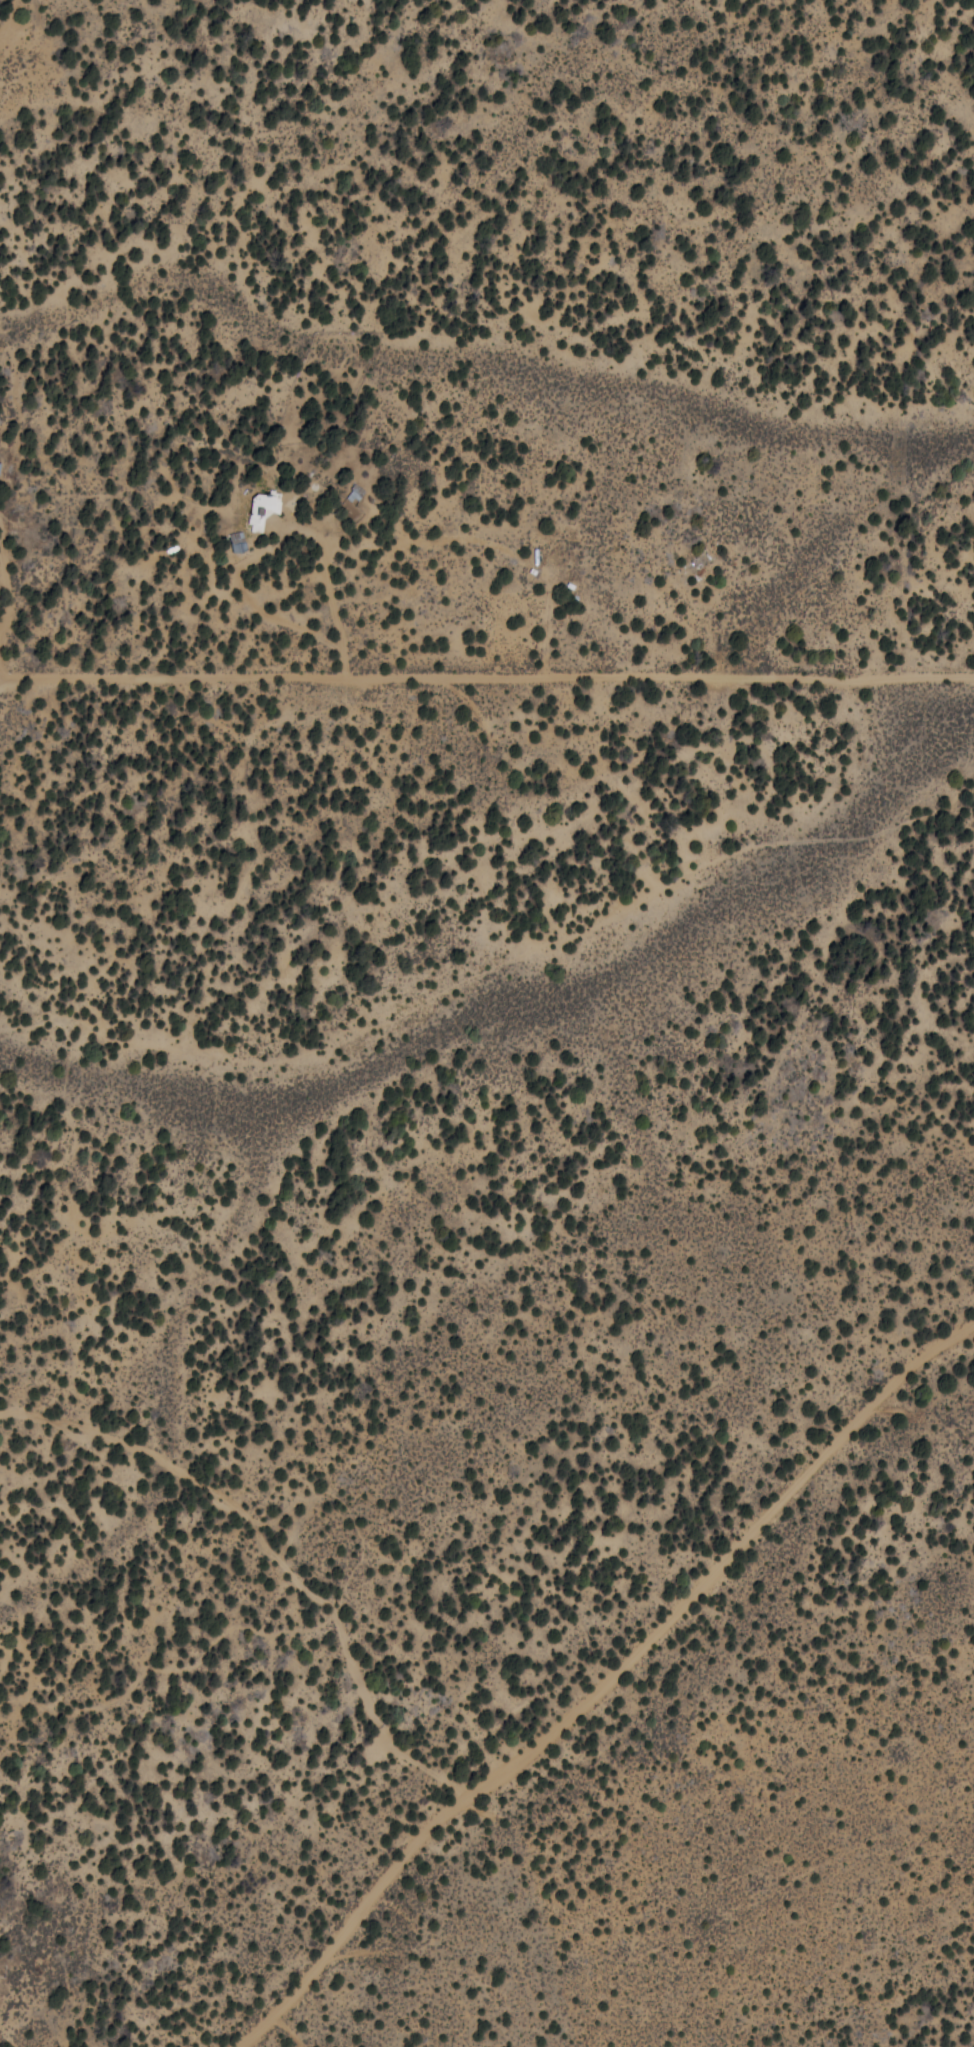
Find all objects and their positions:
building: (263, 508)
building: (238, 541)
road: (757, 1221)
road: (570, 1686)
road: (708, 1801)

